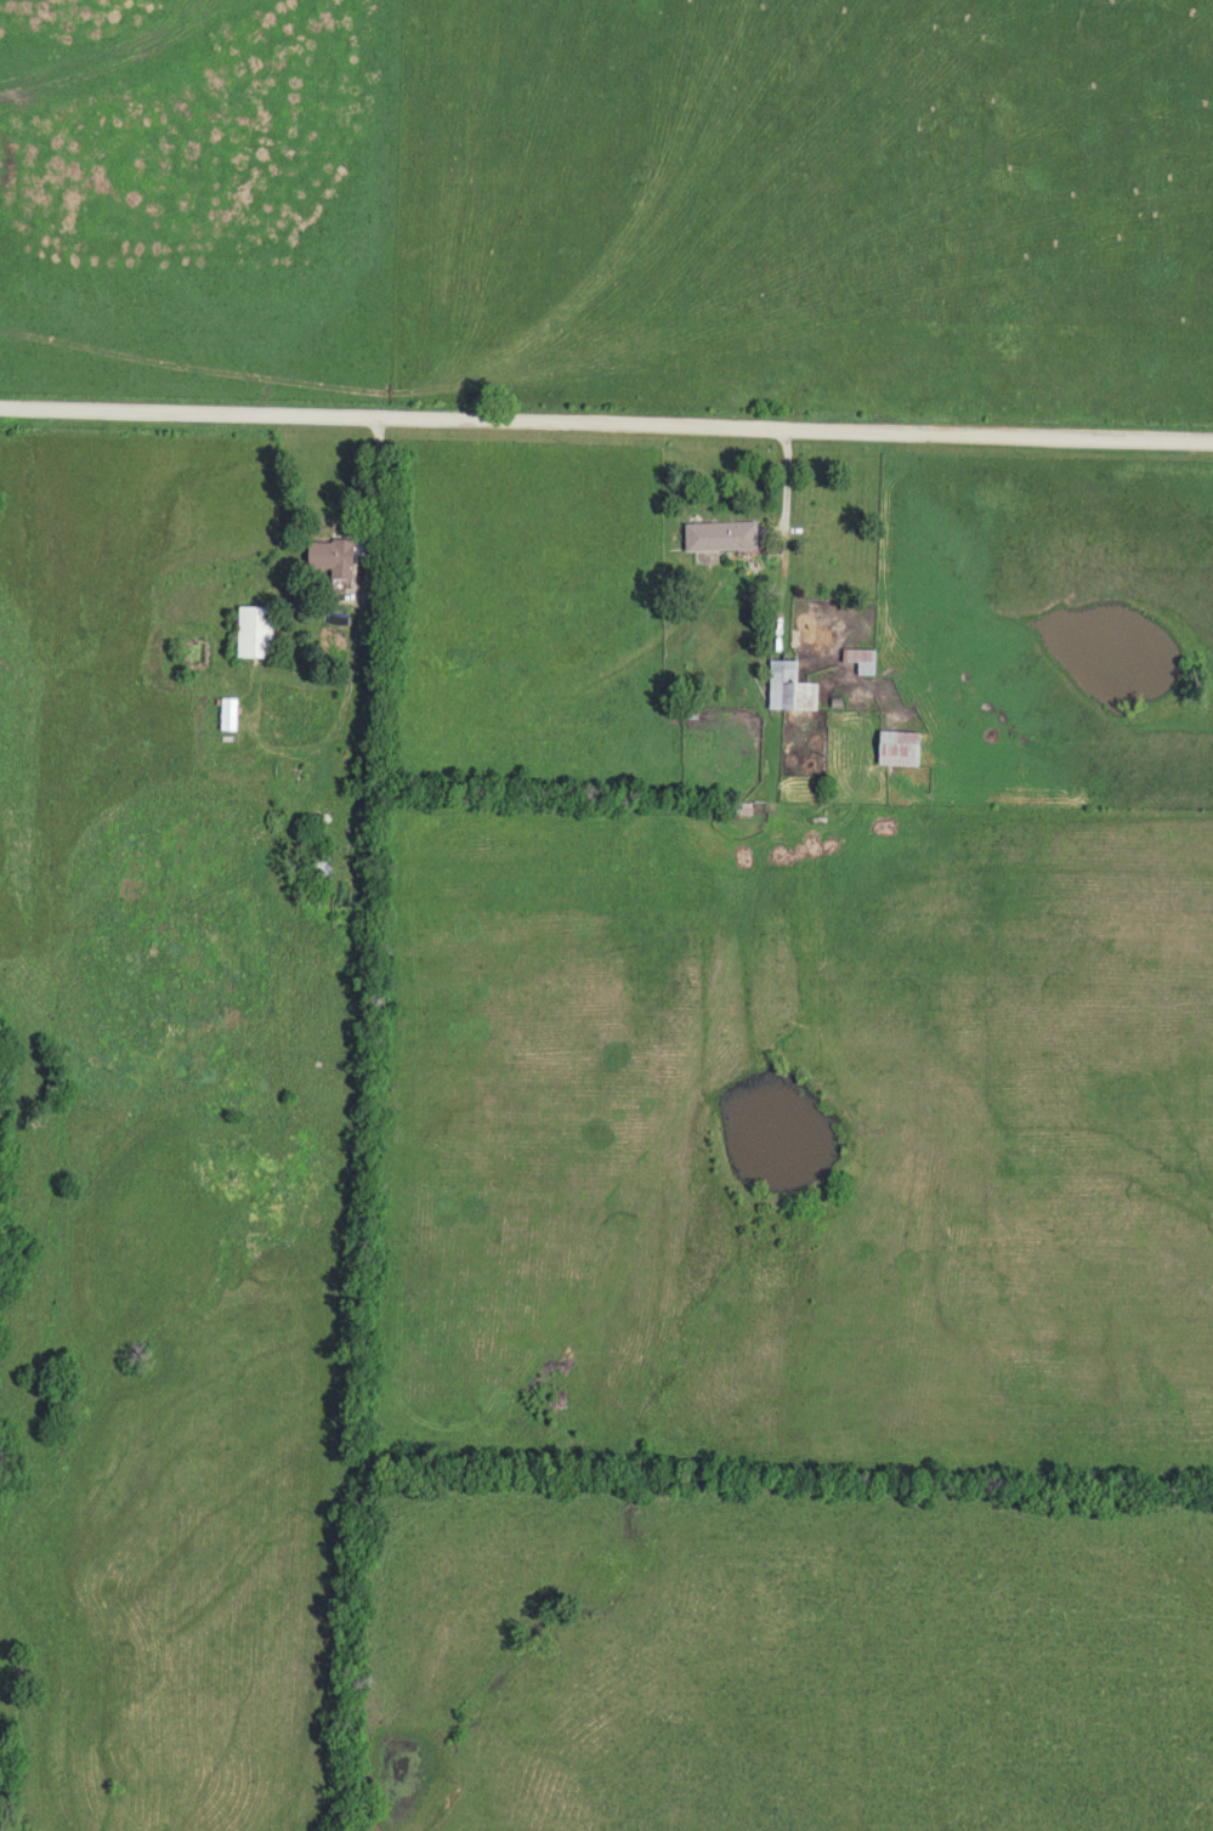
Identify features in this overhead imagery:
road: (606, 424)
building: (715, 535)
building: (328, 557)
road: (358, 574)
building: (250, 631)
building: (857, 661)
building: (786, 687)
building: (895, 748)

